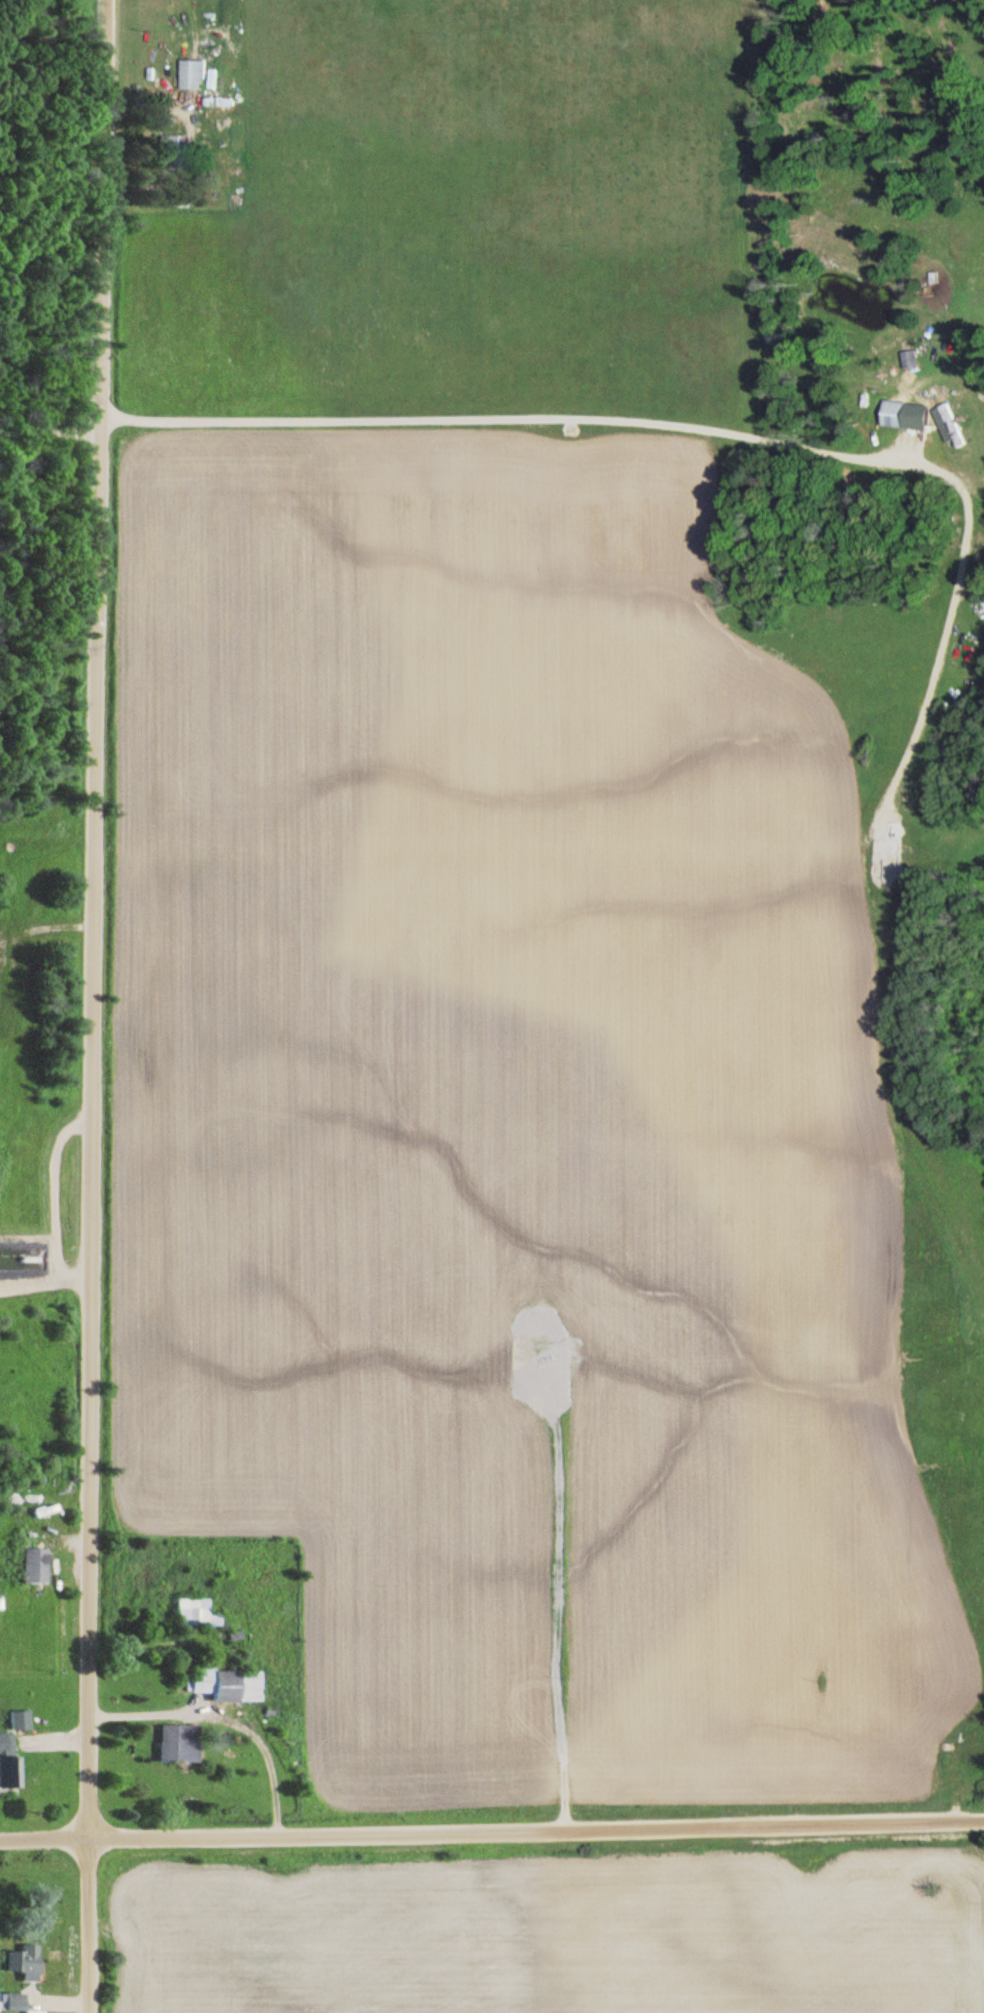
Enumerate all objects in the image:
building: (198, 74)
building: (179, 152)
building: (911, 415)
building: (951, 425)
road: (49, 427)
road: (92, 1006)
building: (20, 1254)
road: (46, 1283)
building: (37, 1564)
building: (199, 1612)
building: (227, 1681)
building: (21, 1719)
building: (7, 1742)
building: (182, 1742)
building: (11, 1770)
road: (491, 1827)
building: (28, 1961)
building: (18, 2001)

